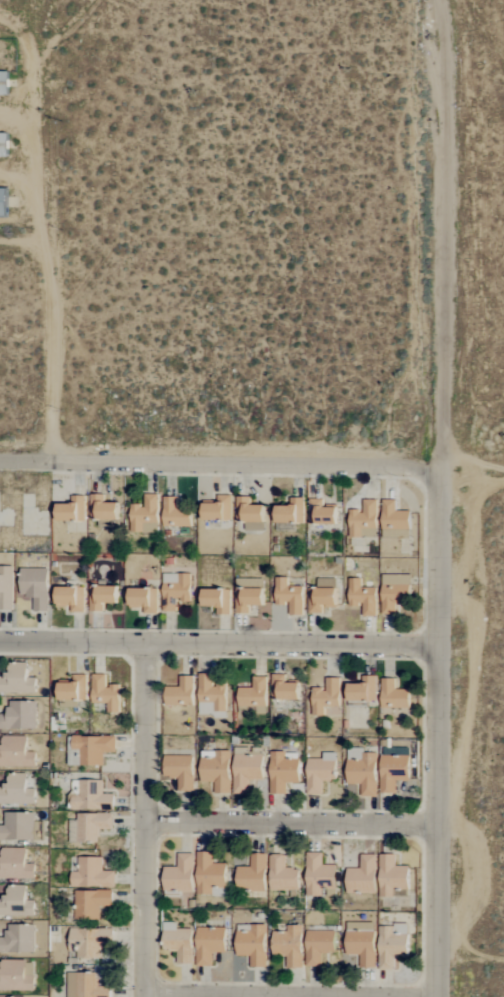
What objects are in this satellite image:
building: (3, 83)
building: (3, 145)
building: (3, 202)
road: (438, 232)
road: (40, 264)
road: (220, 464)
road: (472, 465)
building: (102, 508)
building: (71, 509)
building: (217, 509)
building: (290, 511)
building: (175, 513)
building: (323, 513)
building: (249, 514)
building: (145, 515)
building: (394, 517)
building: (364, 520)
building: (35, 586)
building: (6, 587)
building: (174, 590)
building: (394, 591)
building: (322, 595)
building: (289, 596)
building: (70, 597)
building: (102, 597)
building: (362, 597)
building: (144, 599)
building: (217, 599)
road: (219, 642)
building: (17, 680)
building: (73, 688)
building: (283, 688)
building: (362, 689)
building: (180, 692)
building: (105, 693)
building: (210, 695)
building: (393, 695)
building: (325, 696)
building: (253, 697)
building: (19, 715)
road: (439, 730)
building: (88, 749)
building: (15, 752)
building: (216, 770)
building: (246, 770)
building: (180, 771)
building: (362, 771)
building: (282, 772)
building: (320, 772)
building: (17, 790)
road: (148, 819)
road: (293, 824)
building: (17, 826)
building: (89, 826)
building: (15, 864)
building: (90, 873)
building: (179, 874)
building: (209, 874)
building: (252, 874)
building: (282, 874)
building: (318, 875)
building: (362, 876)
building: (391, 876)
building: (16, 902)
building: (90, 903)
building: (18, 939)
building: (89, 941)
building: (178, 942)
building: (361, 943)
building: (209, 944)
building: (252, 944)
building: (289, 945)
building: (318, 946)
building: (391, 948)
building: (16, 975)
building: (85, 986)
road: (293, 996)

